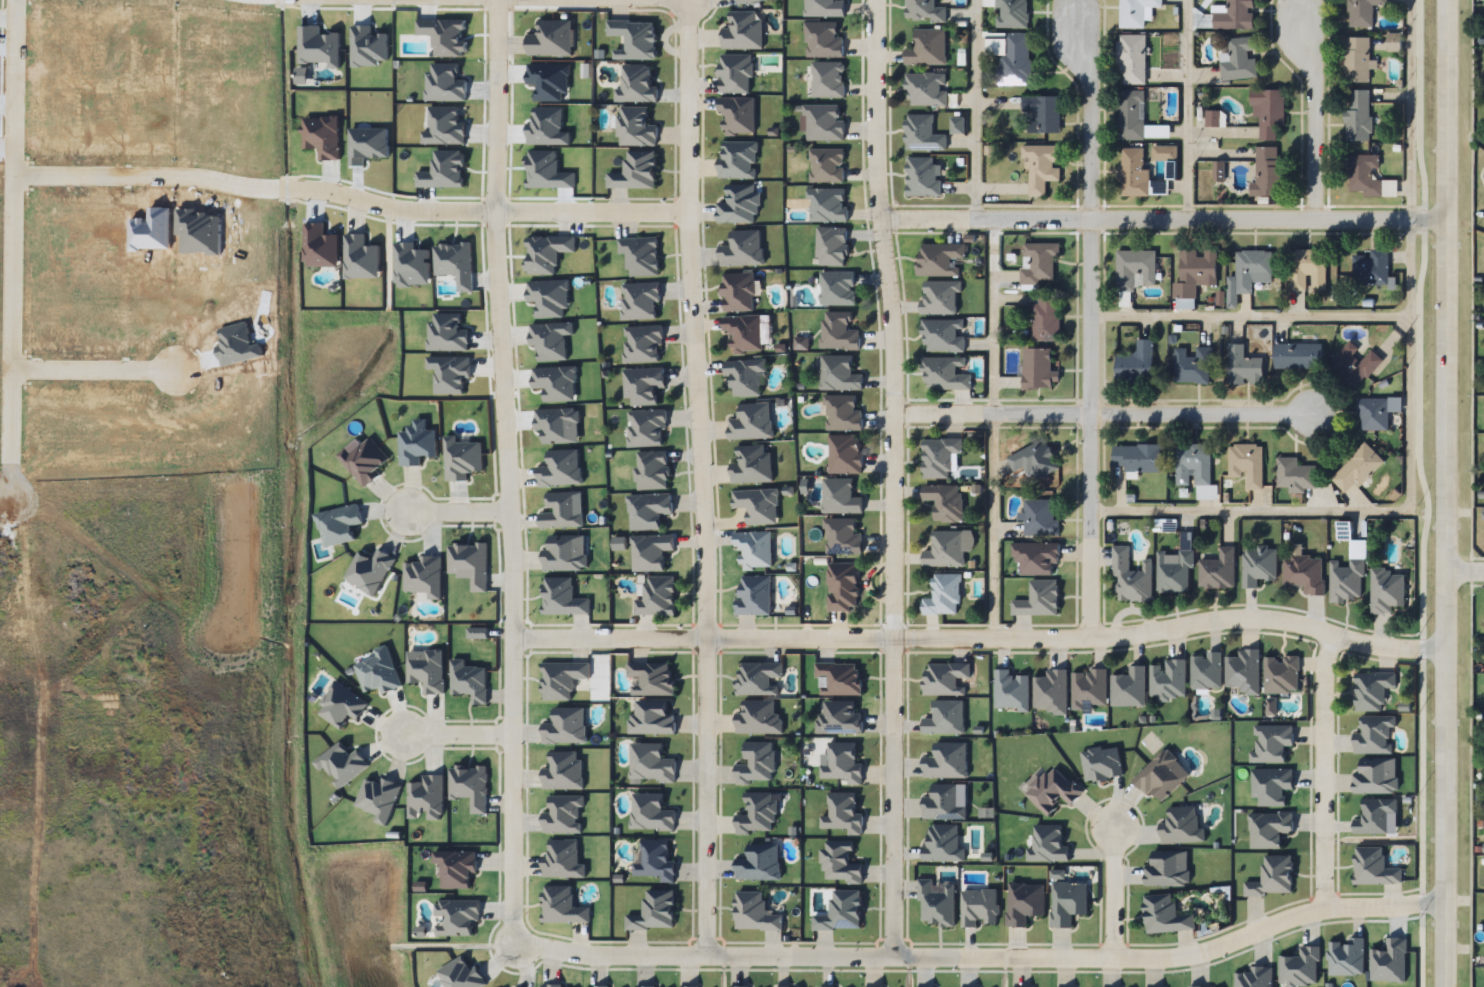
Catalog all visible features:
building: (746, 1)
building: (824, 8)
building: (923, 10)
building: (1136, 12)
building: (1362, 12)
building: (1011, 13)
building: (1234, 14)
road: (494, 23)
building: (743, 31)
building: (551, 38)
building: (633, 39)
building: (822, 40)
building: (926, 47)
building: (1132, 59)
building: (1356, 59)
building: (1015, 60)
building: (1238, 60)
building: (736, 74)
building: (828, 79)
building: (637, 85)
building: (925, 89)
road: (1188, 110)
road: (973, 111)
building: (1268, 111)
building: (1042, 114)
building: (1357, 115)
road: (1088, 116)
building: (737, 117)
building: (1136, 118)
building: (1213, 119)
road: (1312, 119)
building: (825, 122)
building: (636, 128)
building: (922, 133)
building: (737, 159)
building: (826, 165)
building: (1041, 166)
building: (635, 171)
building: (1267, 171)
building: (1138, 175)
building: (923, 177)
building: (1367, 177)
road: (307, 184)
building: (740, 204)
building: (828, 205)
road: (641, 211)
road: (12, 221)
road: (1164, 221)
building: (832, 246)
building: (742, 249)
road: (498, 252)
building: (640, 254)
building: (940, 259)
building: (1039, 261)
building: (1134, 268)
building: (1371, 268)
building: (1309, 269)
building: (1195, 271)
building: (1249, 272)
building: (837, 288)
building: (739, 292)
building: (939, 297)
building: (641, 300)
road: (1248, 314)
building: (1046, 317)
road: (1087, 318)
building: (838, 331)
building: (744, 332)
building: (943, 335)
building: (643, 344)
building: (1296, 357)
building: (1244, 363)
building: (1352, 363)
road: (88, 364)
building: (1137, 364)
building: (1191, 364)
building: (1037, 370)
building: (839, 374)
building: (946, 374)
building: (744, 376)
building: (643, 385)
building: (842, 414)
building: (1372, 414)
road: (990, 415)
road: (1198, 416)
building: (751, 422)
building: (647, 428)
road: (995, 432)
building: (845, 454)
building: (939, 457)
building: (1034, 459)
building: (1136, 460)
building: (752, 464)
building: (1193, 465)
building: (1245, 467)
building: (1359, 468)
building: (652, 469)
building: (1297, 474)
road: (693, 476)
road: (892, 477)
road: (1447, 493)
building: (840, 497)
road: (460, 500)
building: (944, 500)
building: (757, 504)
building: (648, 510)
road: (1392, 511)
building: (1039, 518)
road: (1087, 527)
building: (841, 536)
building: (947, 548)
building: (754, 549)
building: (651, 551)
building: (1037, 558)
building: (1258, 565)
building: (1218, 571)
building: (1174, 573)
building: (1303, 573)
road: (1465, 573)
building: (1130, 576)
building: (1346, 581)
building: (843, 586)
building: (1386, 590)
building: (754, 595)
building: (944, 595)
building: (657, 596)
building: (1039, 599)
road: (560, 636)
road: (1032, 642)
building: (1205, 671)
building: (1244, 671)
building: (1281, 675)
building: (652, 677)
building: (758, 678)
building: (840, 678)
building: (945, 678)
building: (1168, 680)
building: (1128, 688)
building: (1089, 689)
building: (1372, 689)
building: (1051, 691)
road: (507, 702)
road: (463, 714)
building: (651, 718)
building: (758, 718)
building: (839, 718)
building: (945, 718)
building: (946, 760)
building: (650, 762)
building: (756, 763)
road: (1319, 767)
building: (1162, 774)
building: (1375, 777)
building: (1052, 790)
building: (943, 803)
building: (651, 813)
building: (843, 813)
building: (757, 814)
building: (1182, 826)
building: (943, 844)
building: (1048, 844)
building: (655, 861)
building: (759, 863)
building: (840, 863)
building: (1168, 869)
road: (1113, 890)
building: (1024, 902)
building: (937, 903)
building: (979, 907)
building: (654, 912)
building: (754, 912)
building: (842, 912)
building: (1165, 915)
road: (566, 950)
road: (1036, 956)
building: (644, 986)
building: (687, 986)

